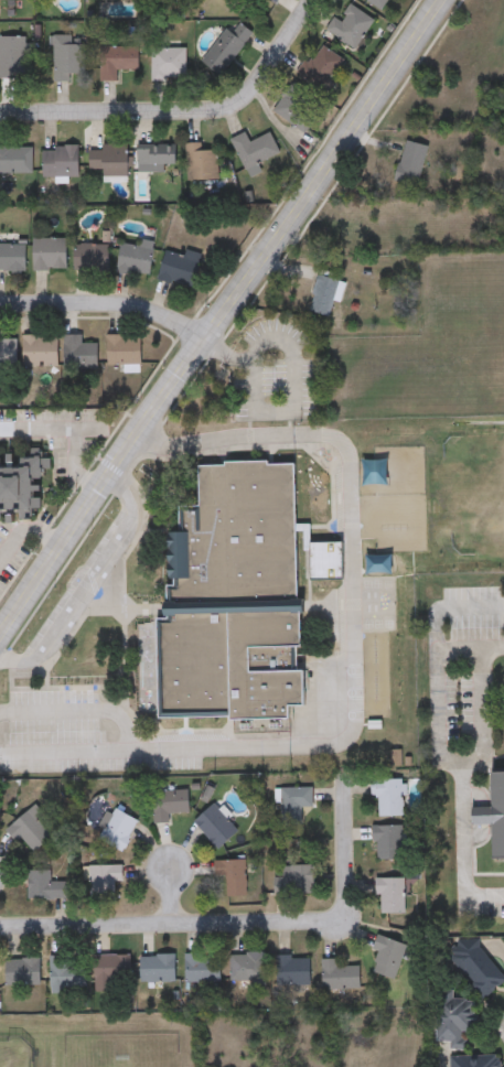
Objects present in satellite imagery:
building: (105, 0)
building: (275, 1)
building: (165, 2)
building: (378, 3)
building: (350, 25)
building: (225, 48)
building: (67, 56)
building: (13, 57)
building: (116, 61)
building: (168, 64)
building: (319, 67)
building: (294, 108)
road: (183, 118)
building: (254, 151)
building: (107, 158)
building: (156, 158)
building: (15, 160)
building: (60, 161)
building: (200, 162)
building: (411, 164)
building: (354, 229)
building: (50, 252)
building: (12, 257)
building: (90, 257)
building: (135, 257)
building: (179, 269)
building: (324, 297)
road: (105, 308)
road: (219, 321)
building: (122, 349)
building: (8, 351)
building: (40, 351)
building: (78, 353)
road: (65, 440)
building: (21, 489)
building: (319, 496)
road: (30, 529)
road: (86, 582)
building: (235, 595)
road: (450, 608)
road: (352, 662)
road: (479, 711)
road: (77, 712)
road: (448, 762)
building: (389, 797)
building: (294, 805)
building: (171, 806)
building: (0, 813)
building: (494, 816)
building: (216, 828)
building: (116, 830)
building: (29, 832)
building: (388, 843)
road: (341, 853)
building: (232, 879)
building: (105, 880)
building: (296, 882)
building: (45, 887)
building: (390, 897)
road: (169, 898)
road: (170, 925)
building: (388, 958)
building: (476, 968)
building: (203, 969)
building: (249, 970)
building: (292, 972)
building: (23, 973)
building: (159, 973)
building: (67, 976)
building: (112, 976)
building: (340, 978)
building: (457, 1021)
building: (476, 1061)

